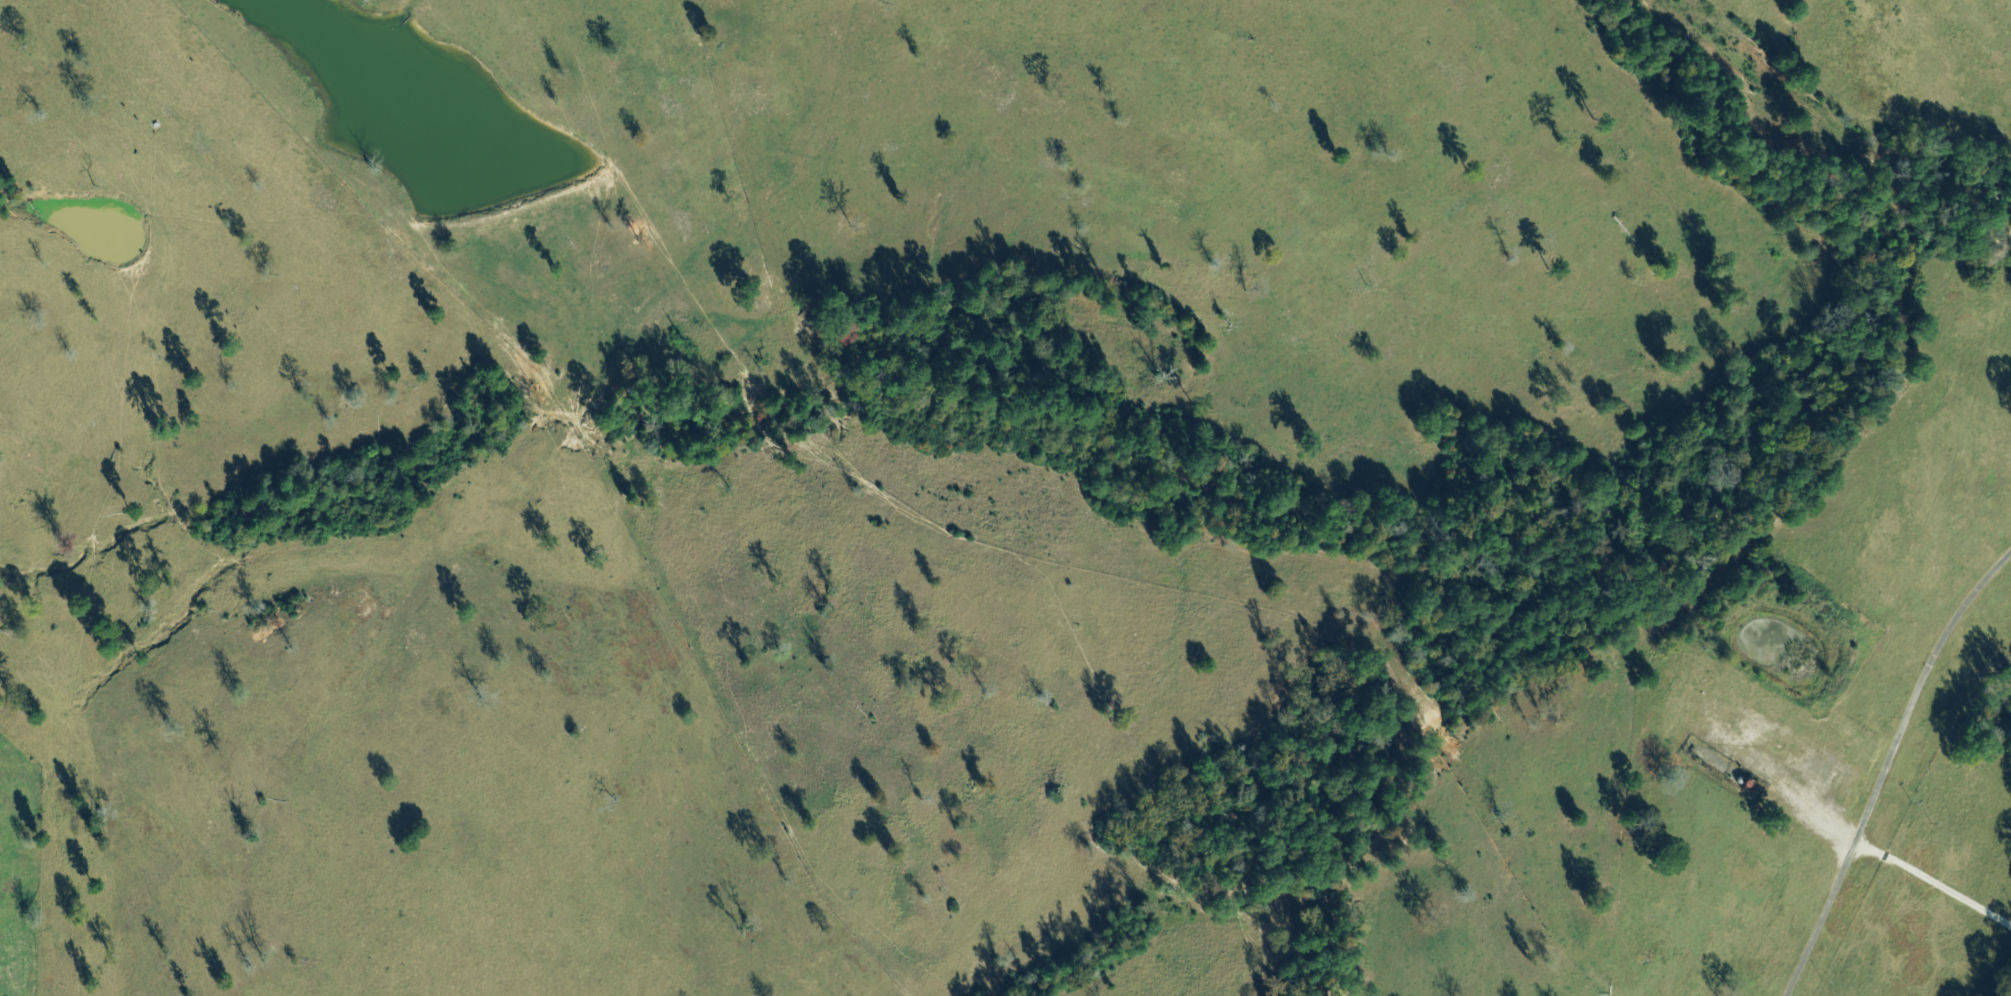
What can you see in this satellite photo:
petroleum well: (1777, 740)
road: (1886, 765)

